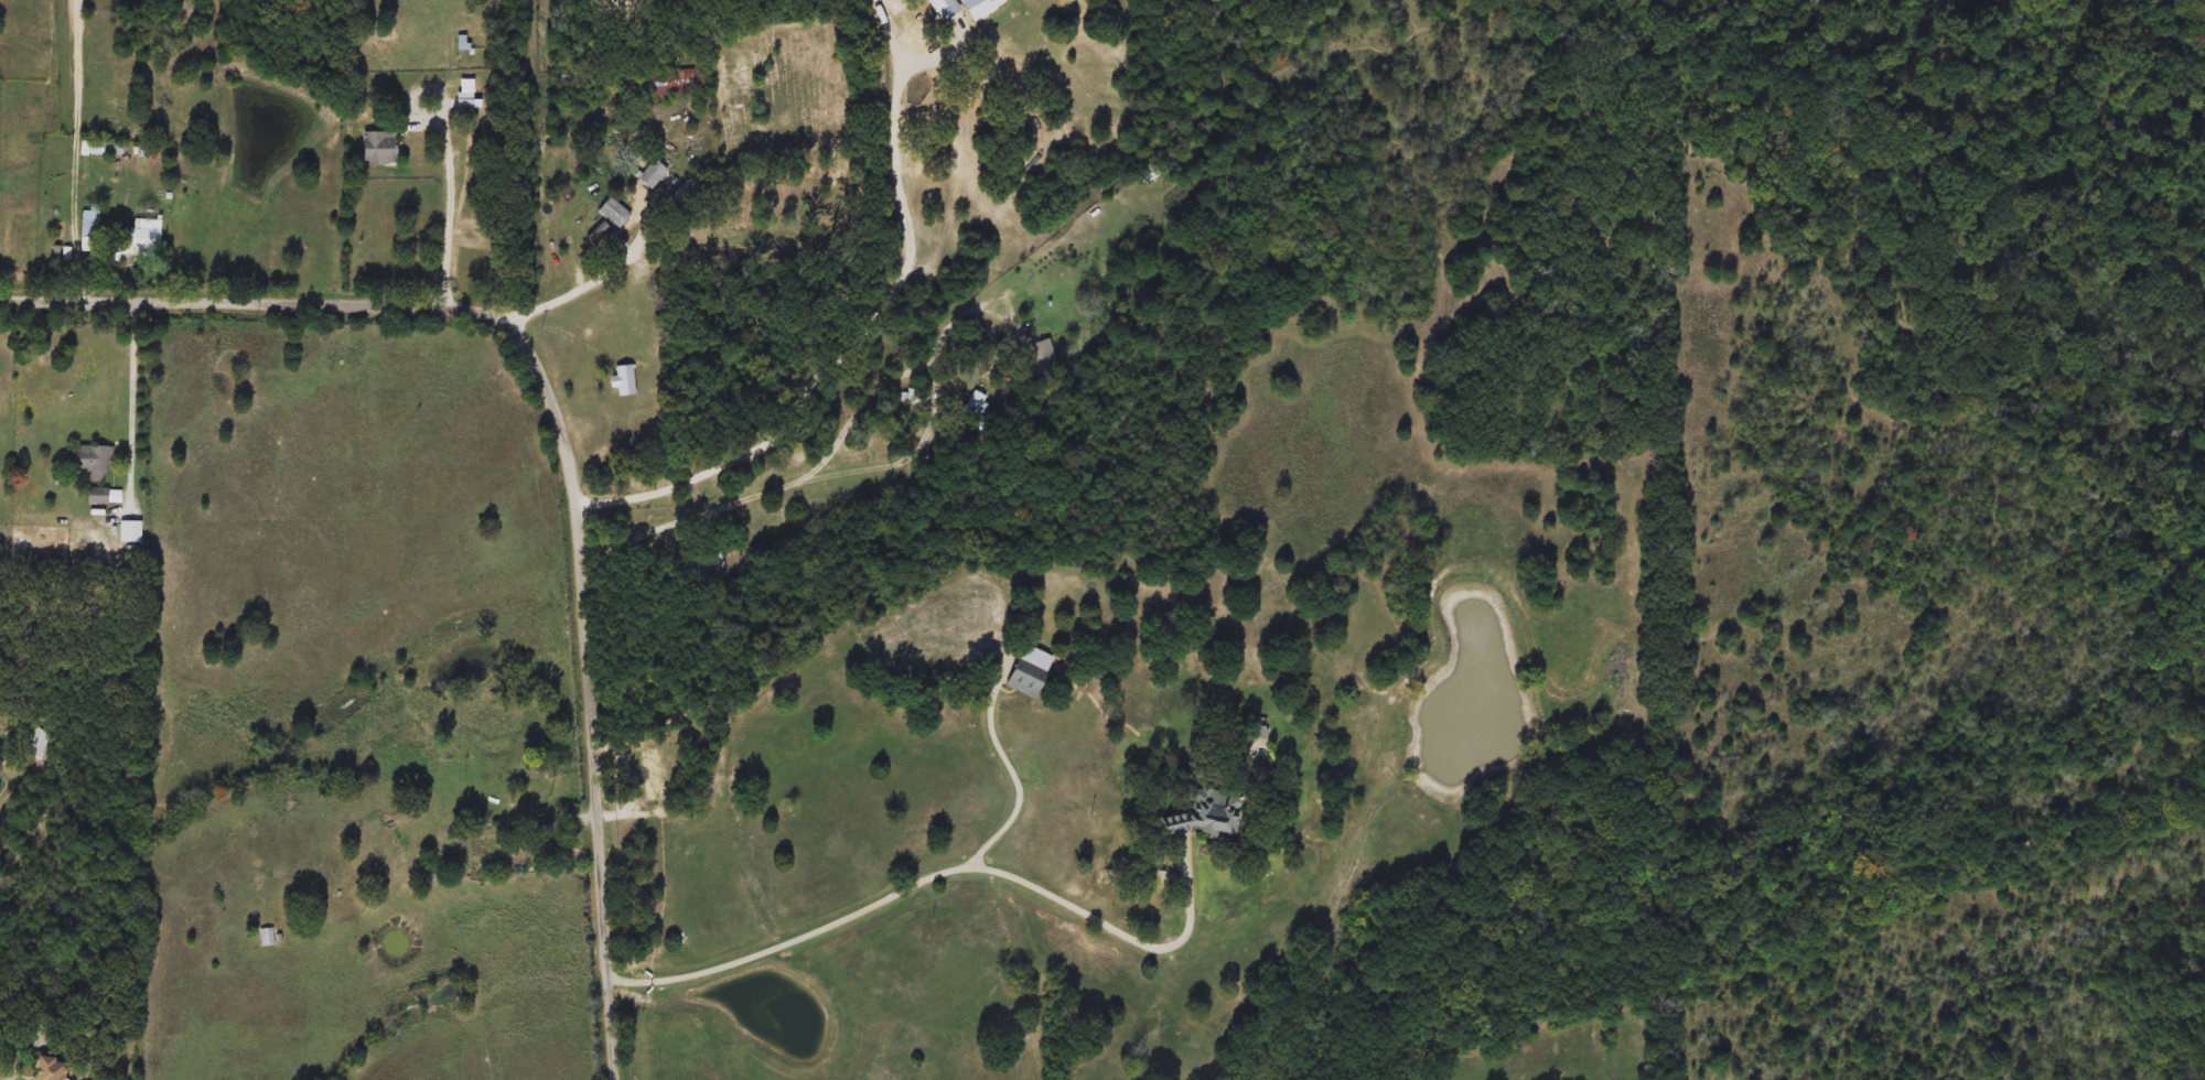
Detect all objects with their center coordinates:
building: (964, 8)
building: (467, 97)
road: (77, 148)
building: (379, 149)
building: (106, 150)
park: (775, 156)
building: (653, 175)
building: (614, 214)
building: (90, 223)
building: (142, 240)
road: (448, 245)
road: (592, 280)
building: (1037, 353)
road: (846, 356)
building: (624, 380)
road: (132, 396)
building: (977, 409)
road: (561, 439)
building: (92, 463)
road: (797, 483)
building: (96, 497)
building: (704, 563)
building: (1025, 679)
building: (1258, 733)
building: (36, 744)
road: (1023, 780)
road: (563, 807)
building: (1204, 814)
building: (469, 856)
road: (1118, 929)
building: (266, 938)
road: (796, 940)
road: (26, 1035)
building: (45, 1068)

